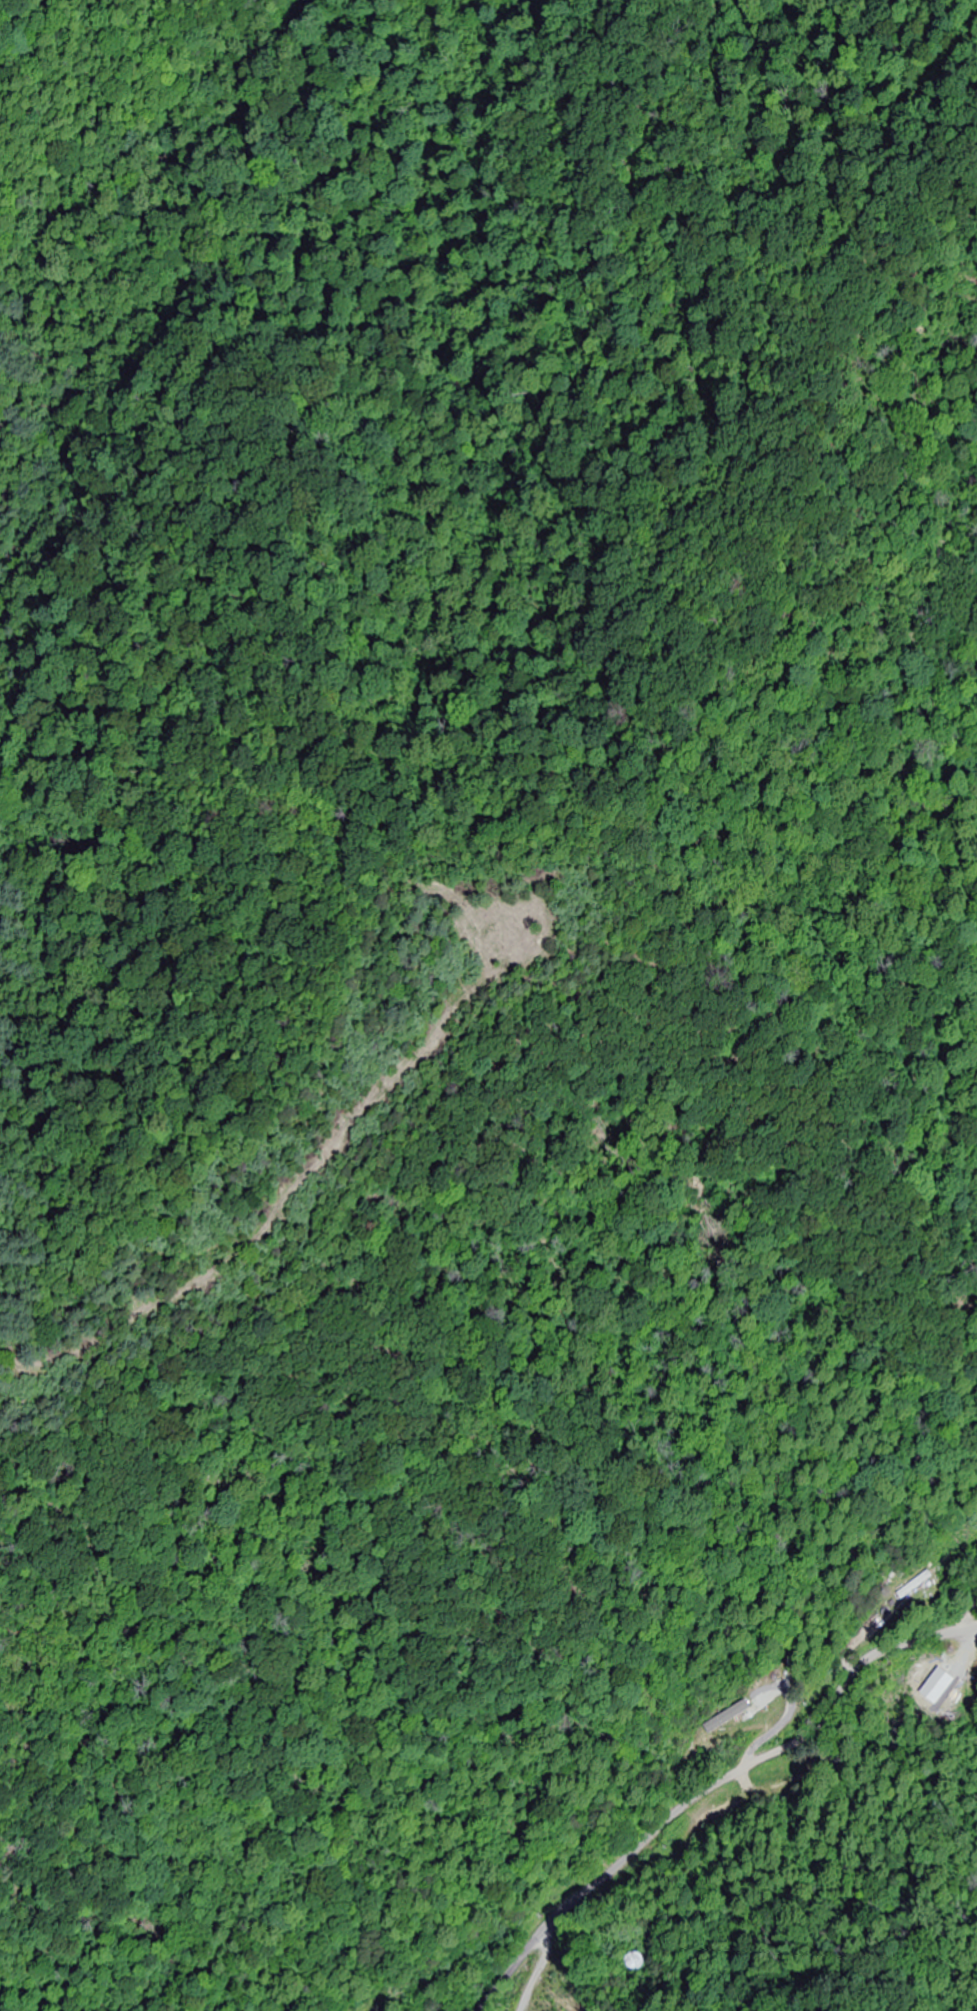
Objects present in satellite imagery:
building: (920, 1585)
building: (729, 1724)
road: (693, 1781)
building: (636, 1962)

